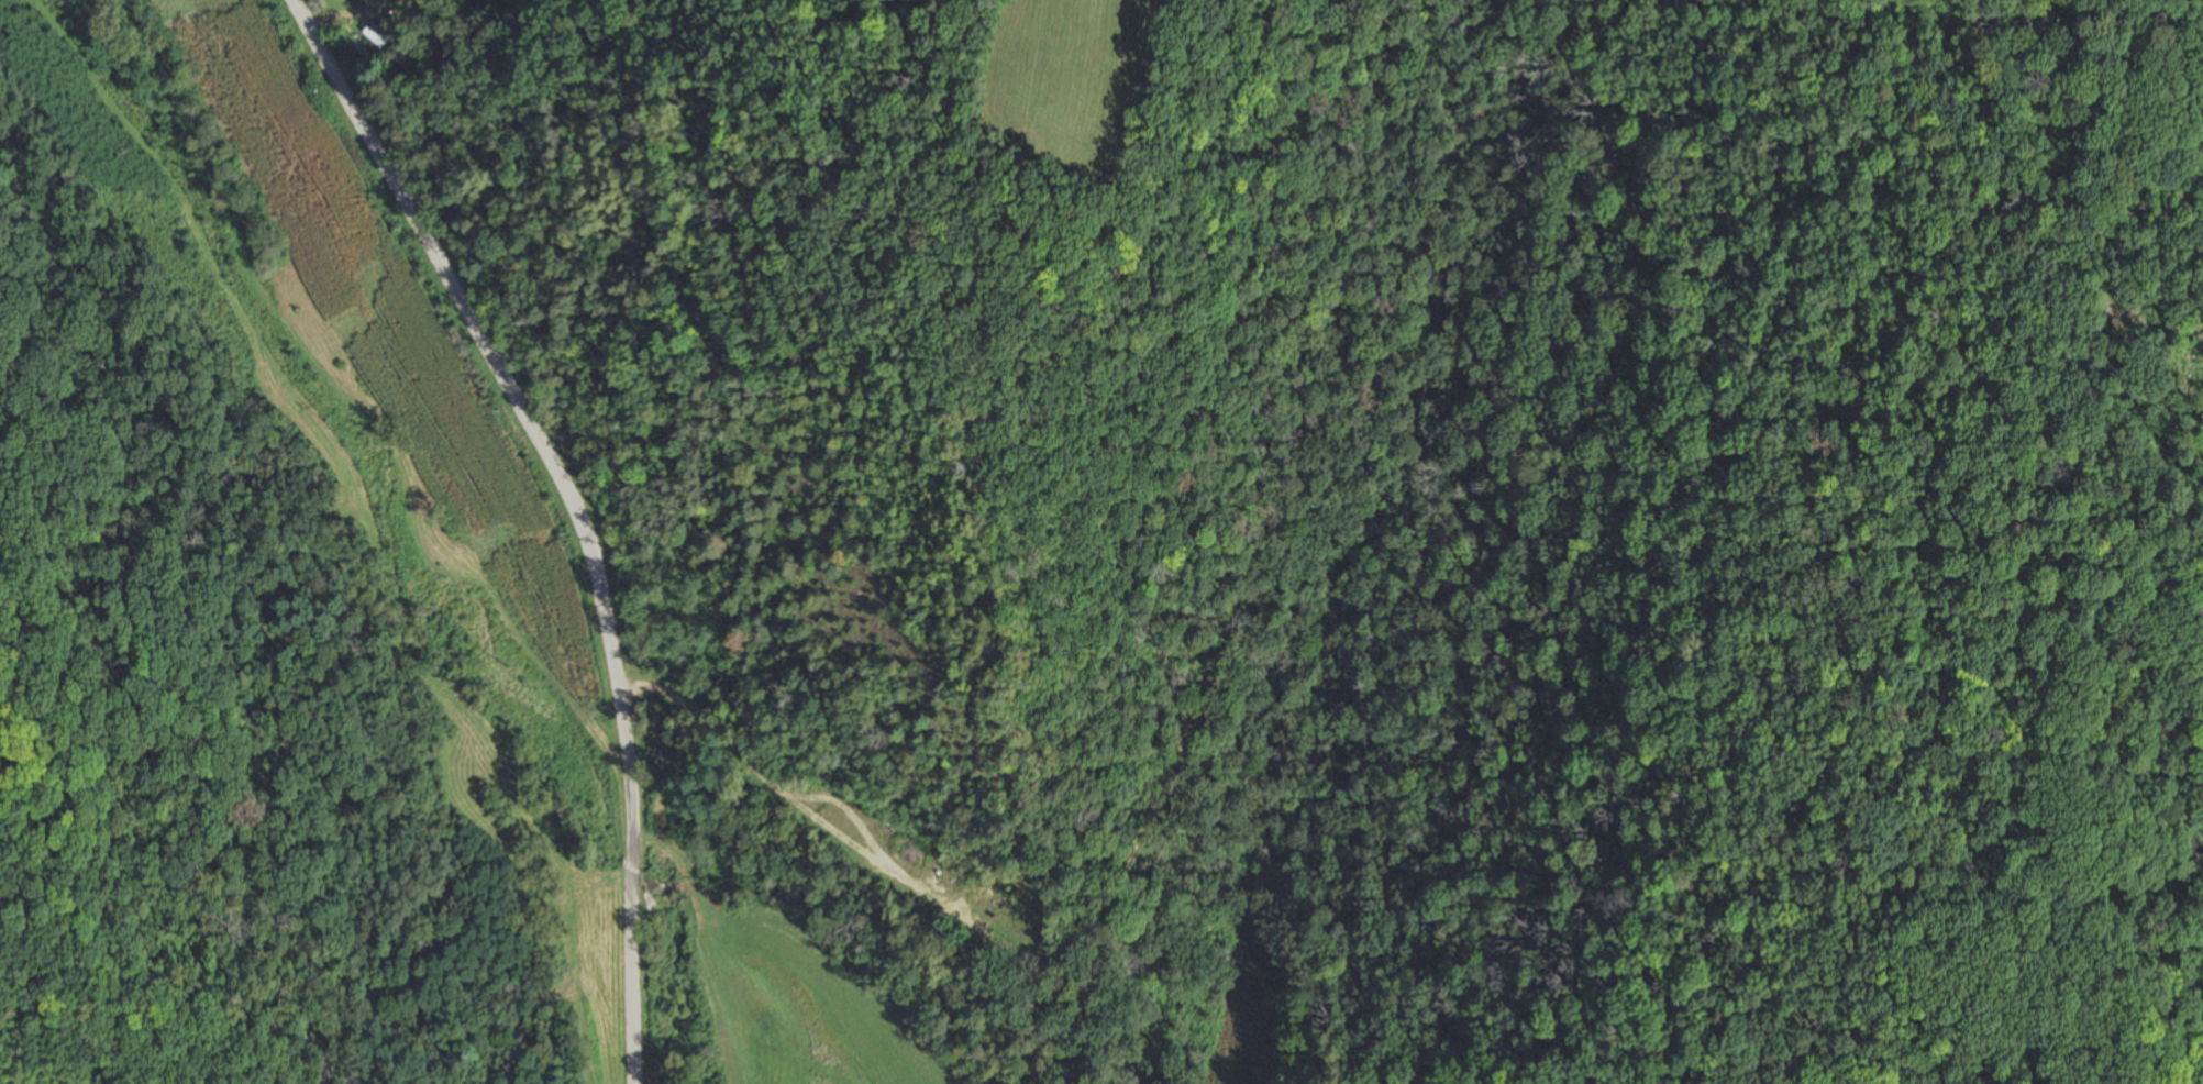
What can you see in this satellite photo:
building: (379, 34)
building: (364, 48)
road: (521, 401)
road: (634, 962)

